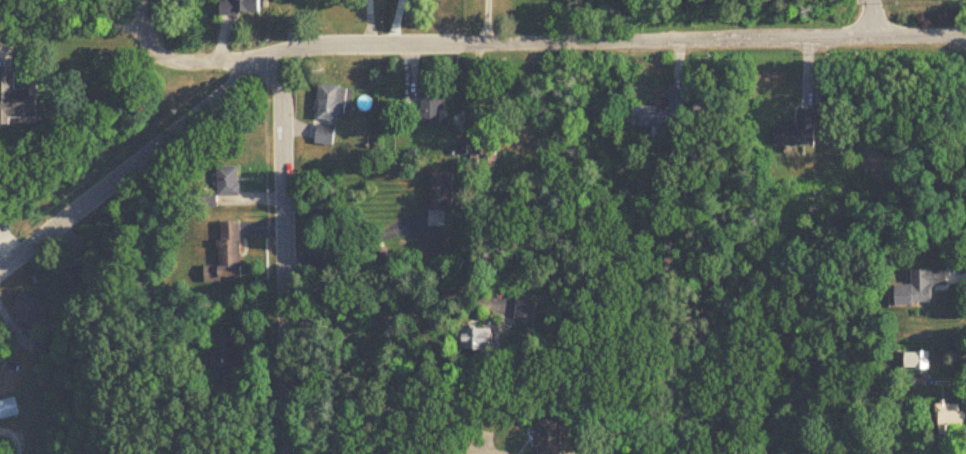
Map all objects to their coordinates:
building: (251, 6)
road: (873, 18)
road: (488, 21)
road: (71, 37)
road: (443, 43)
road: (174, 59)
building: (19, 102)
building: (333, 103)
building: (433, 110)
building: (665, 115)
building: (801, 132)
building: (327, 136)
building: (492, 148)
building: (231, 183)
building: (444, 193)
road: (347, 249)
building: (232, 251)
road: (278, 257)
building: (915, 286)
building: (29, 311)
building: (484, 339)
building: (226, 346)
building: (9, 409)
road: (14, 437)
building: (551, 437)
road: (308, 450)
road: (416, 450)

